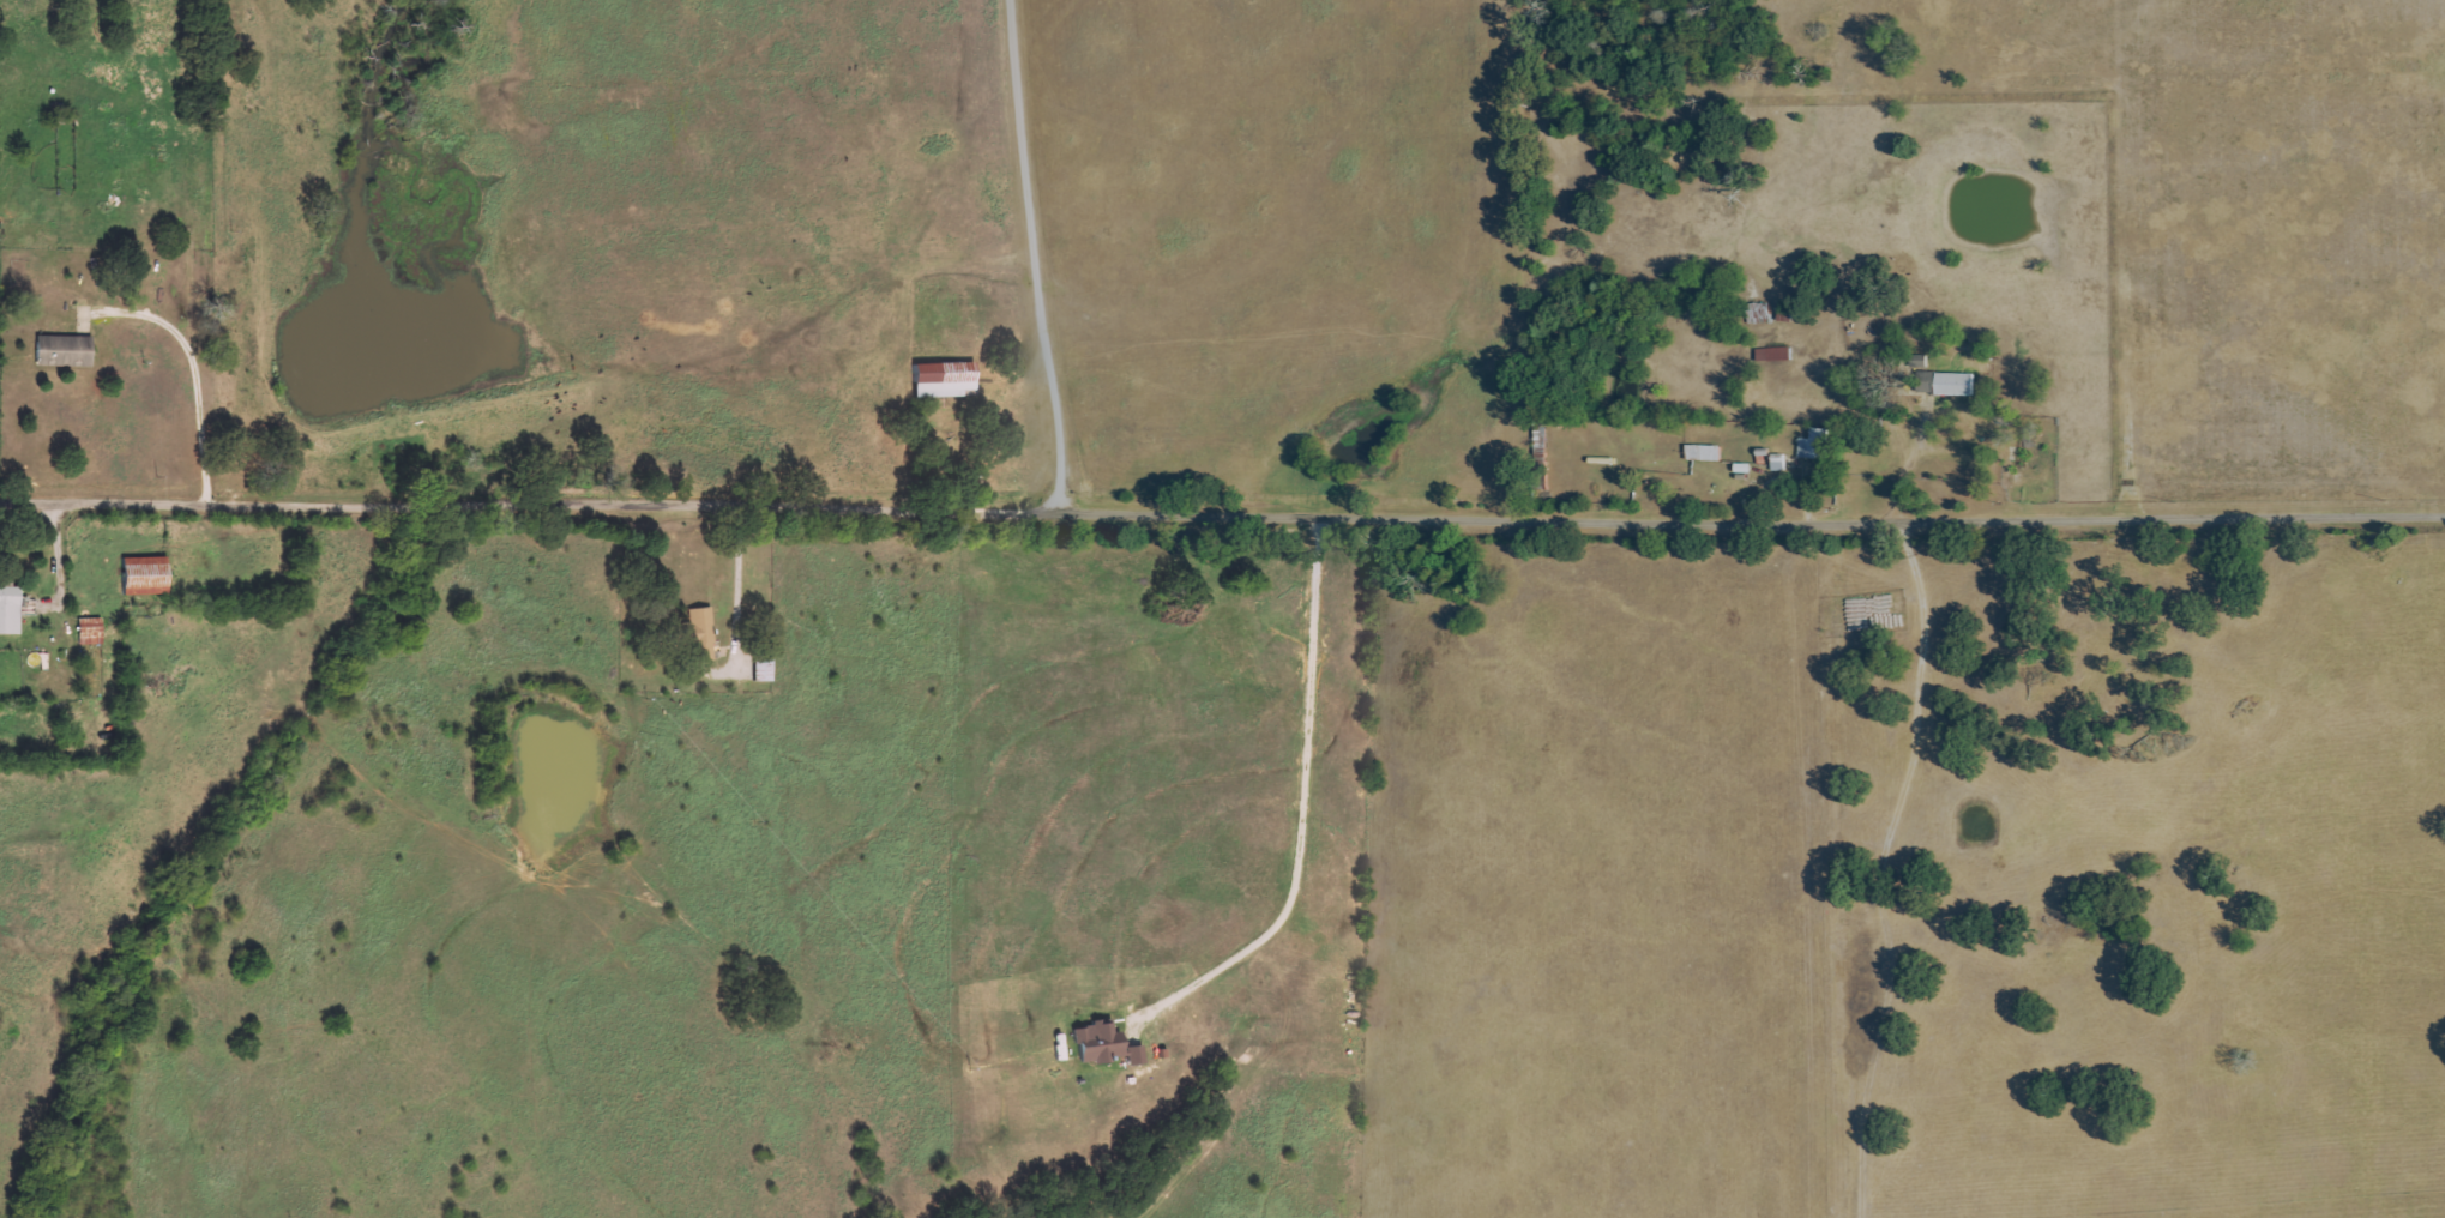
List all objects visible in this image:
road: (1030, 258)
building: (67, 350)
building: (1919, 361)
road: (198, 364)
building: (941, 379)
building: (1944, 384)
building: (1813, 444)
building: (1776, 463)
road: (1222, 518)
road: (60, 555)
building: (150, 575)
building: (11, 609)
building: (92, 631)
building: (695, 633)
road: (1307, 783)
building: (1094, 1043)

